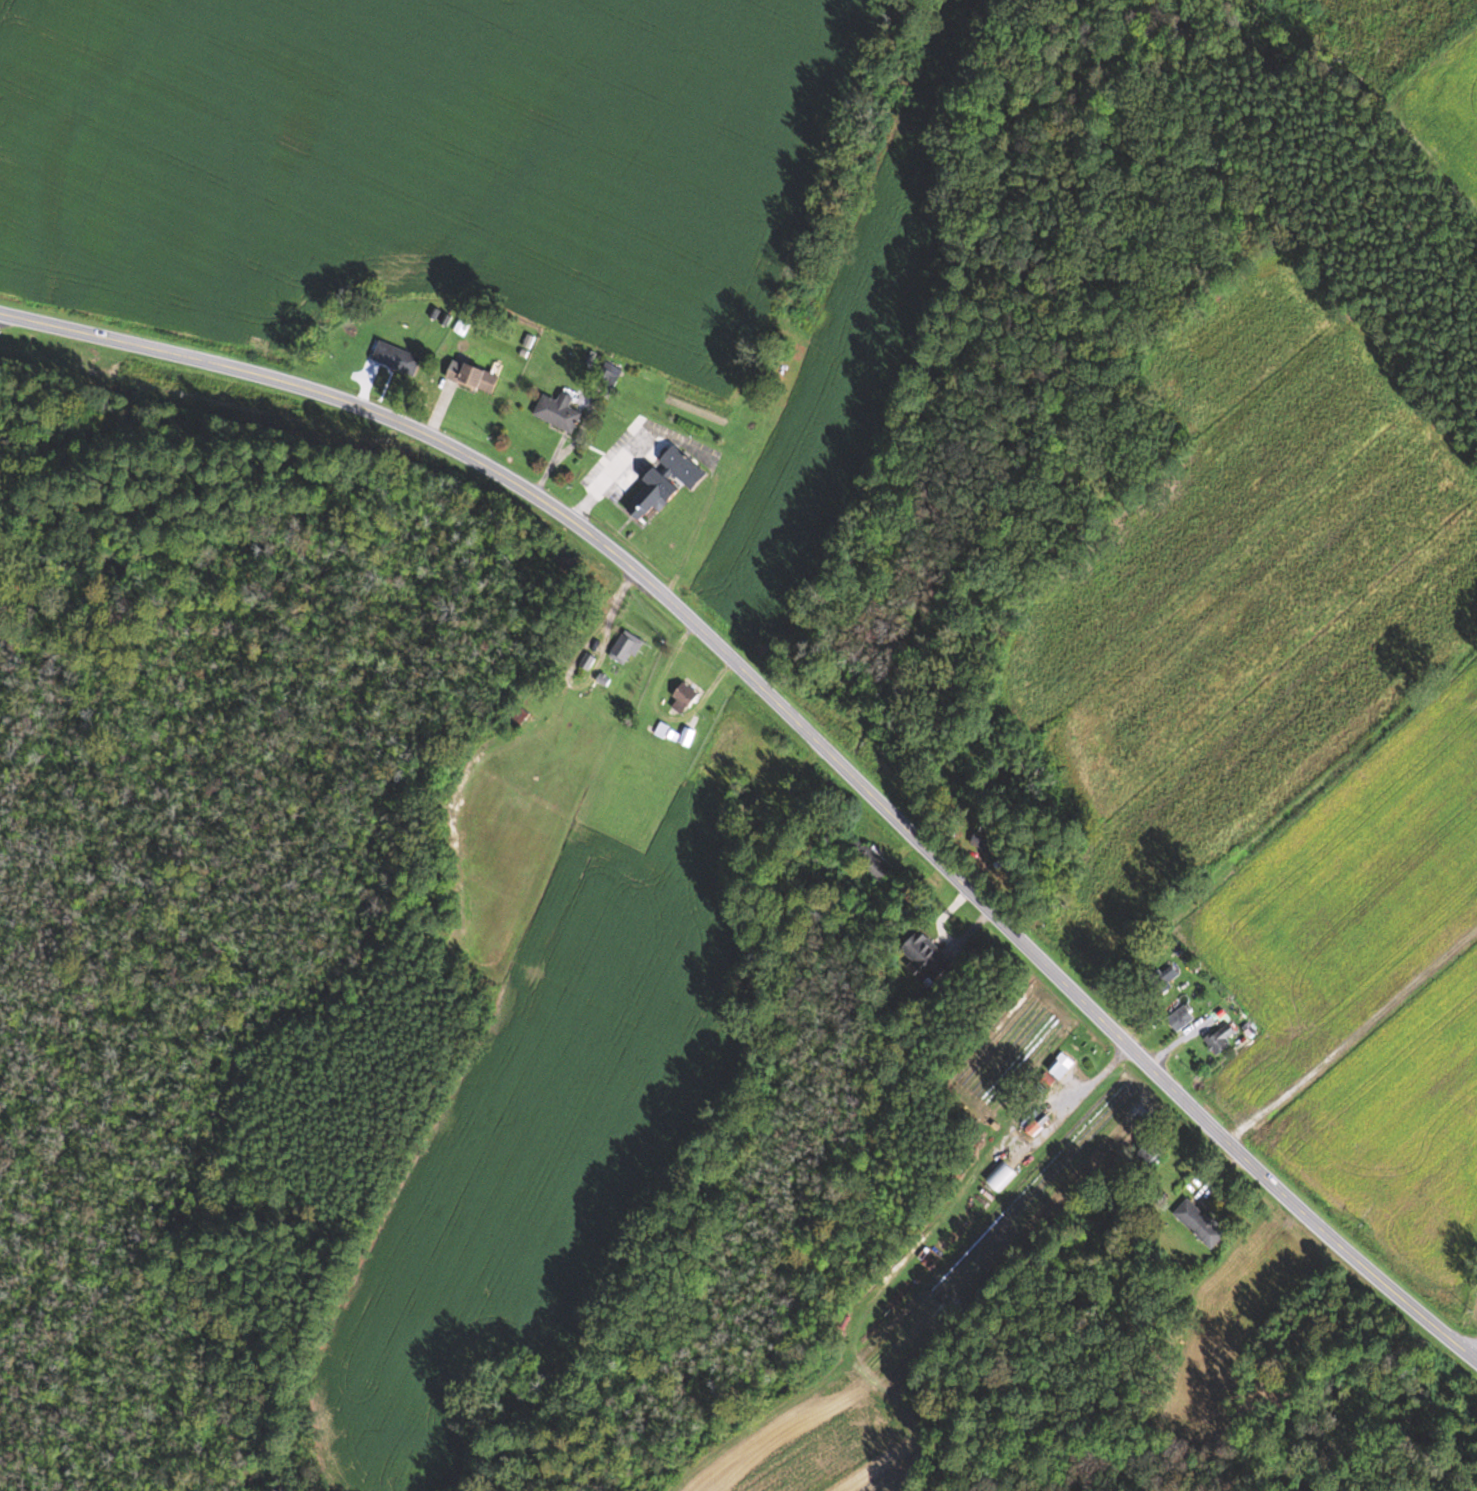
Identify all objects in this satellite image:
building: (397, 357)
building: (609, 374)
building: (473, 376)
building: (558, 411)
building: (683, 467)
road: (268, 485)
building: (654, 494)
building: (625, 647)
building: (683, 698)
building: (516, 717)
building: (728, 735)
road: (801, 735)
building: (723, 775)
building: (983, 842)
building: (869, 859)
building: (927, 956)
building: (1167, 977)
building: (1181, 1018)
building: (1221, 1038)
road: (1349, 1039)
building: (1065, 1062)
building: (1036, 1120)
building: (1151, 1152)
building: (1001, 1175)
building: (1200, 1223)
road: (1454, 1336)

